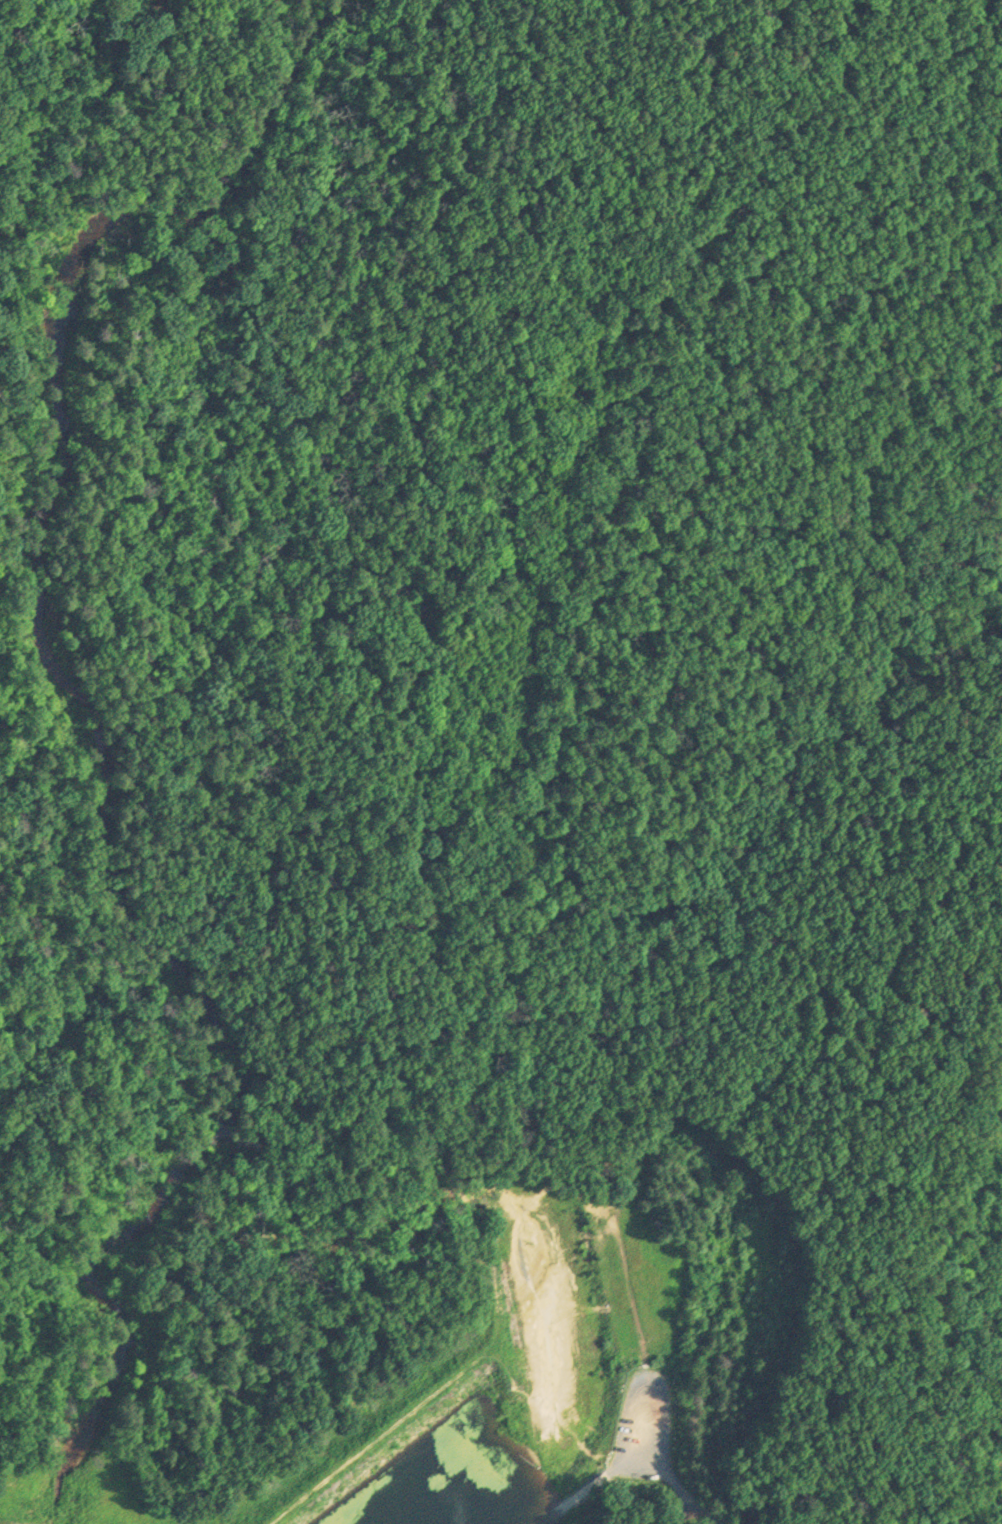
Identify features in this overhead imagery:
road: (496, 1277)
parking lot: (647, 1418)
dam: (395, 1458)
road: (656, 1466)
road: (998, 1473)
road: (998, 1479)
road: (967, 1500)

